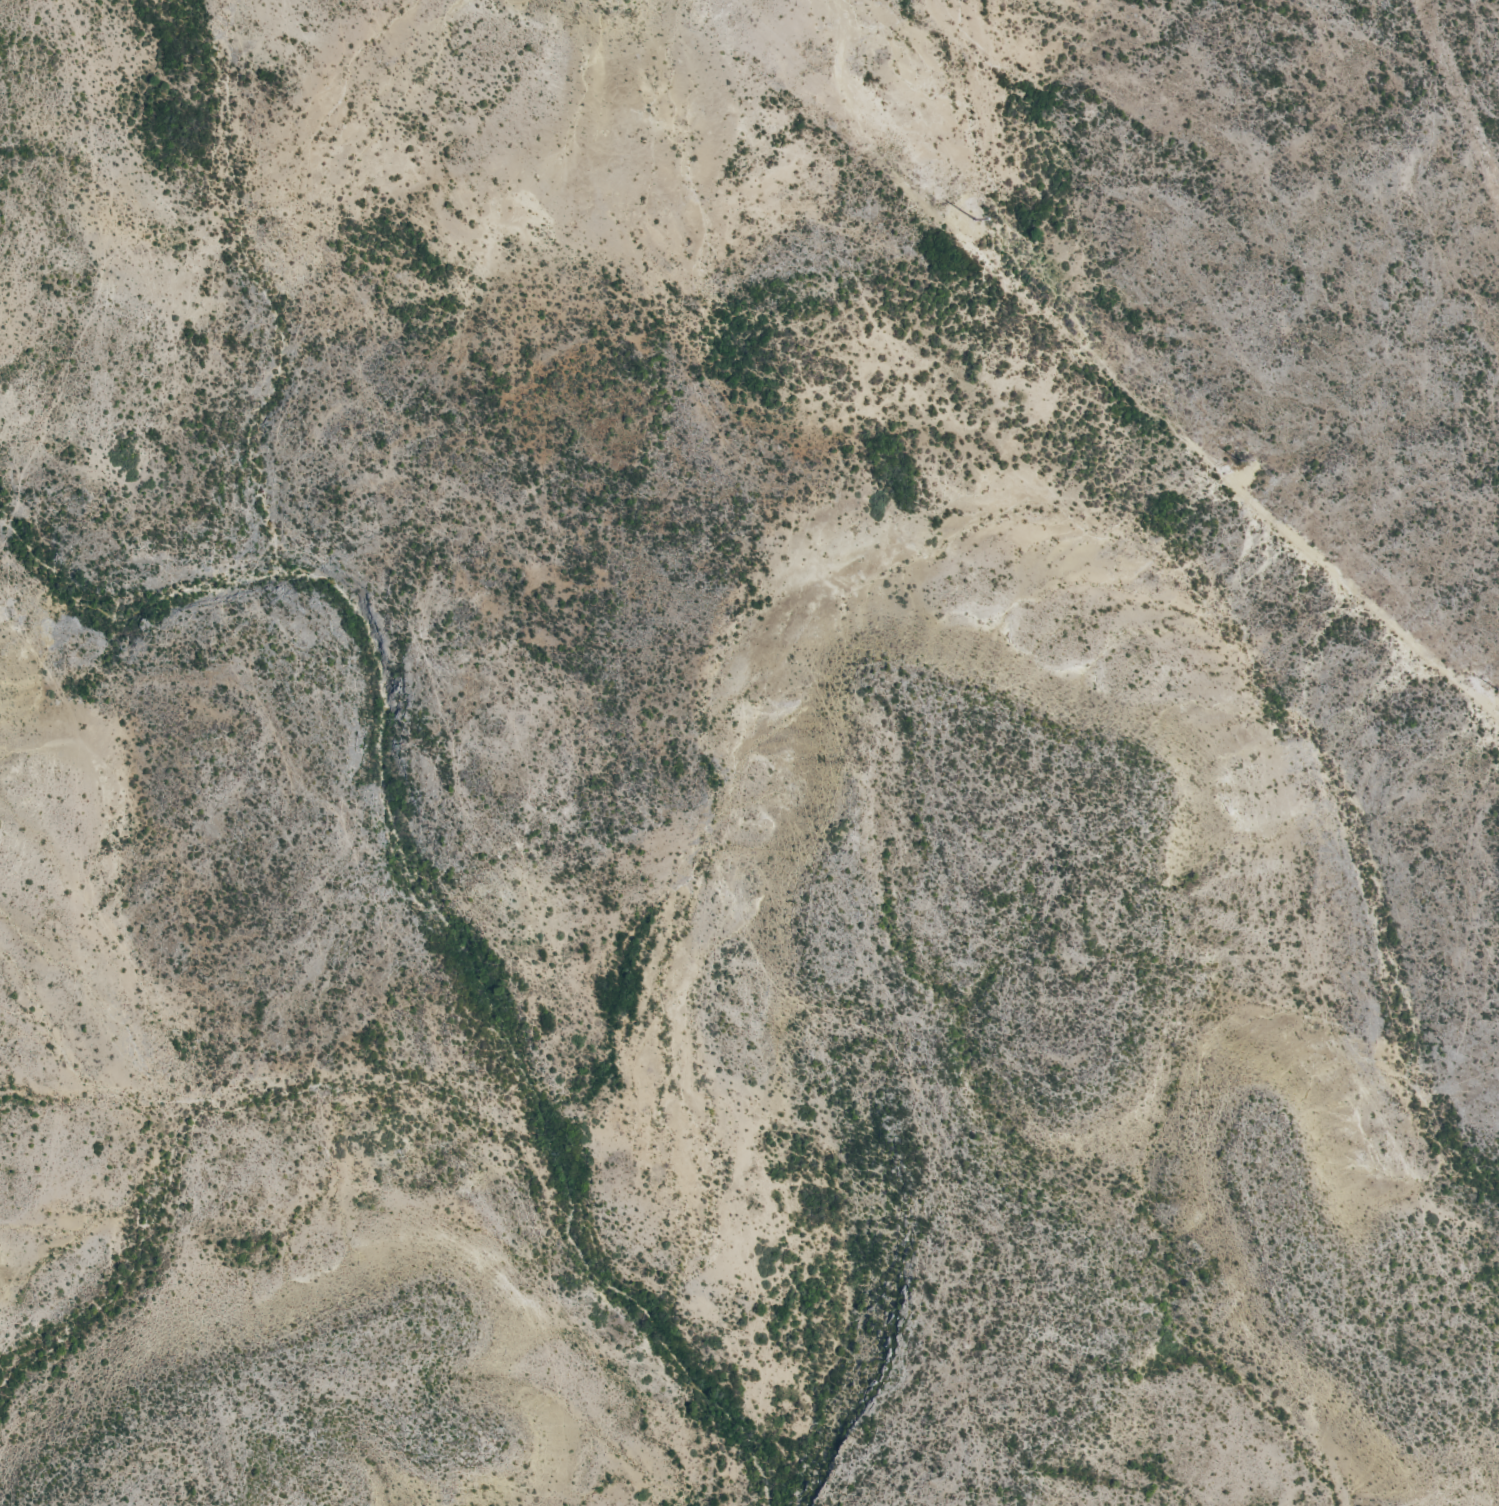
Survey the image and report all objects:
power tower: (963, 218)
power tower: (1238, 465)
power tower: (1496, 688)

